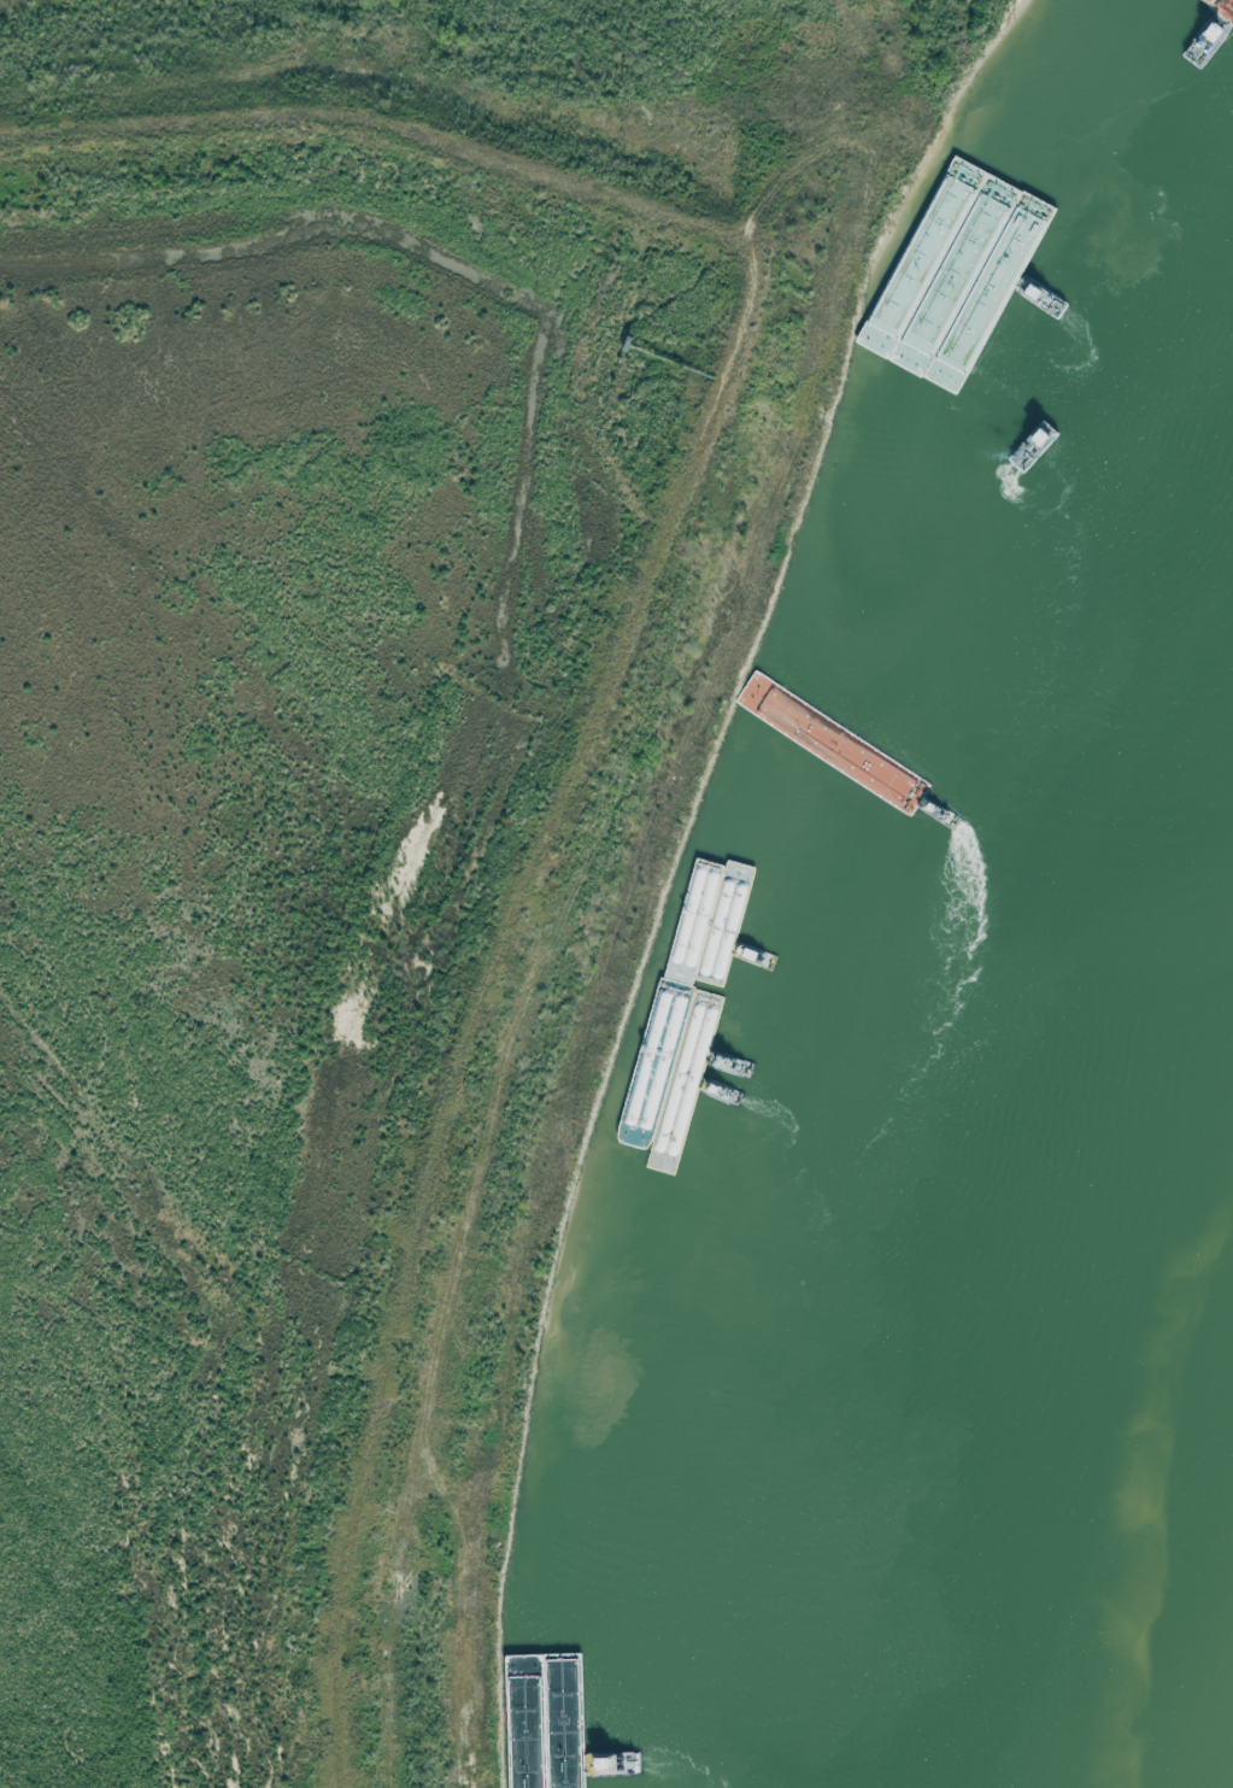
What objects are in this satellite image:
landfill: (400, 807)
river: (1211, 1728)

